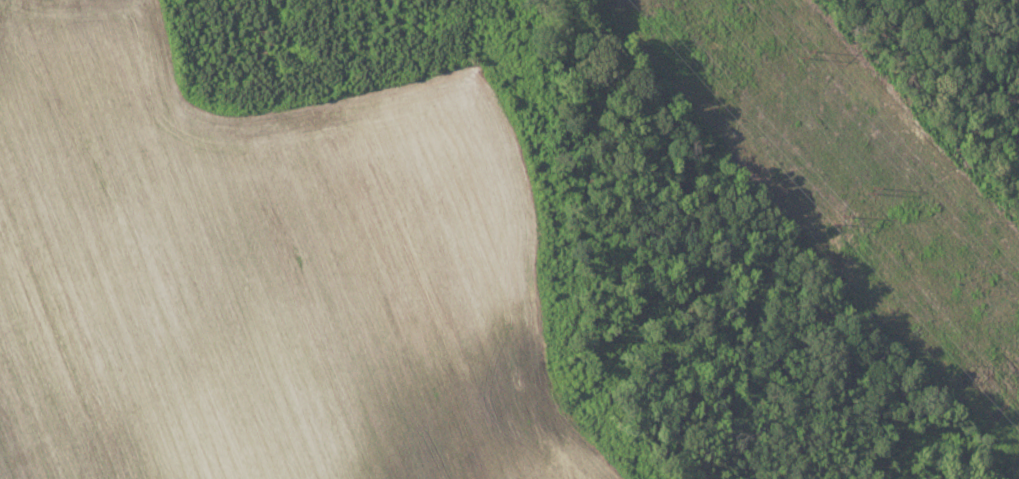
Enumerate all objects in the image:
power tower: (803, 51)
power tower: (871, 187)
power tower: (833, 226)

